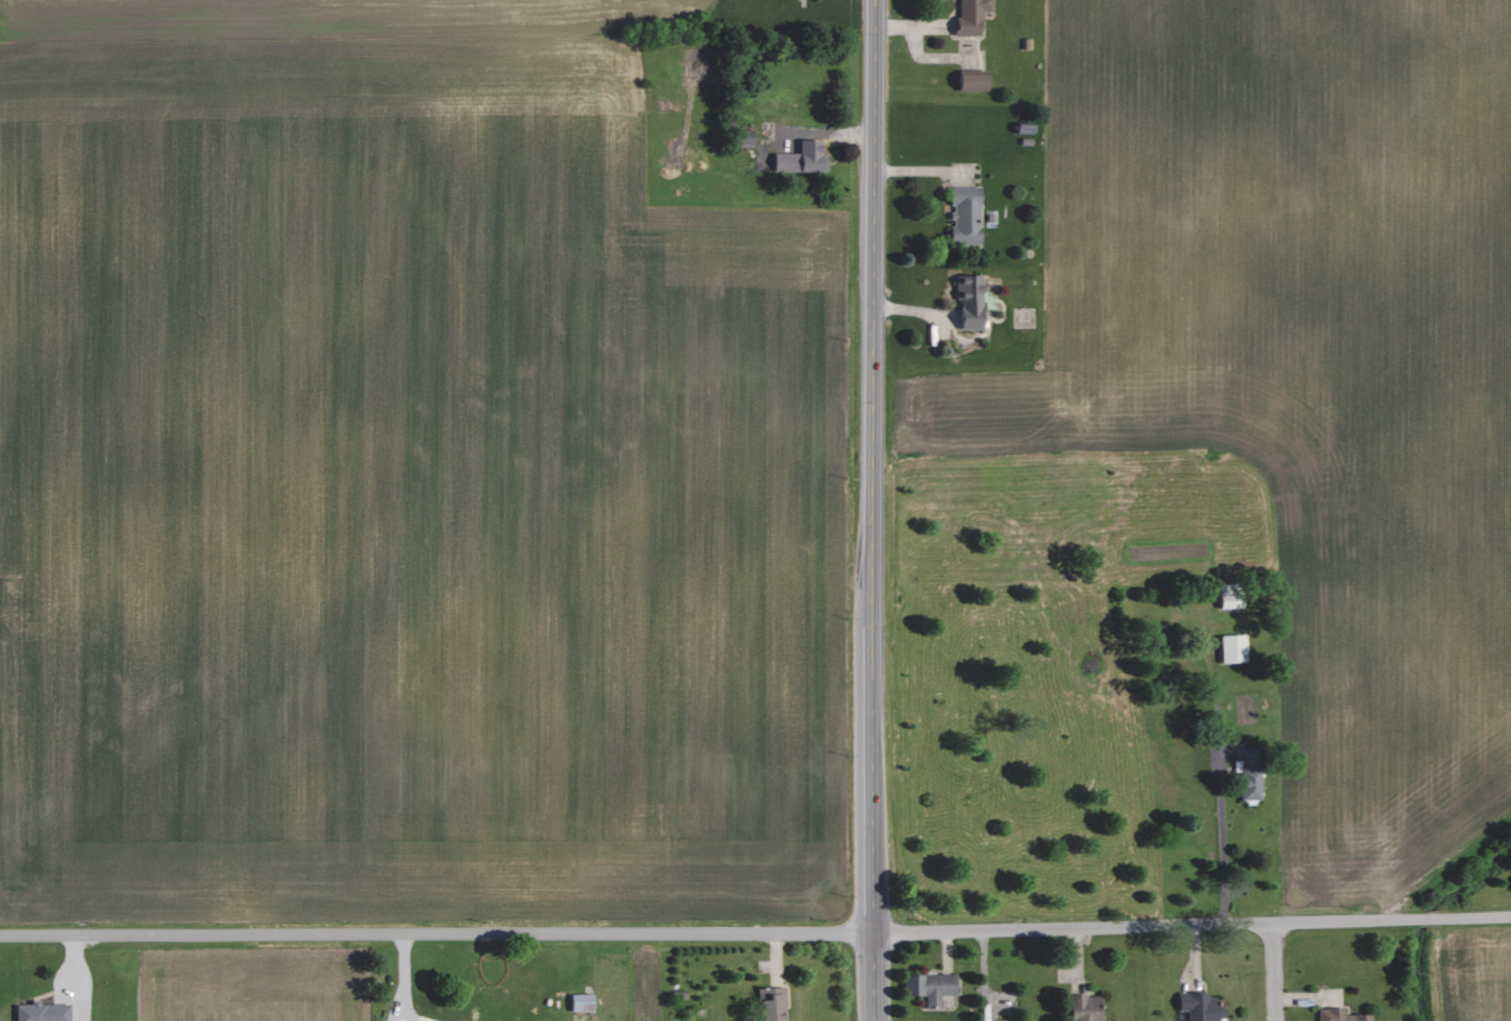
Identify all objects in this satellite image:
building: (971, 15)
building: (971, 79)
building: (1024, 128)
building: (800, 158)
building: (964, 215)
building: (969, 300)
road: (874, 467)
building: (1228, 595)
building: (1232, 648)
building: (1250, 773)
road: (1223, 842)
road: (755, 935)
road: (1280, 973)
road: (80, 978)
road: (874, 978)
building: (929, 987)
building: (580, 1002)
building: (771, 1004)
building: (1200, 1006)
building: (1084, 1008)
building: (1340, 1015)

